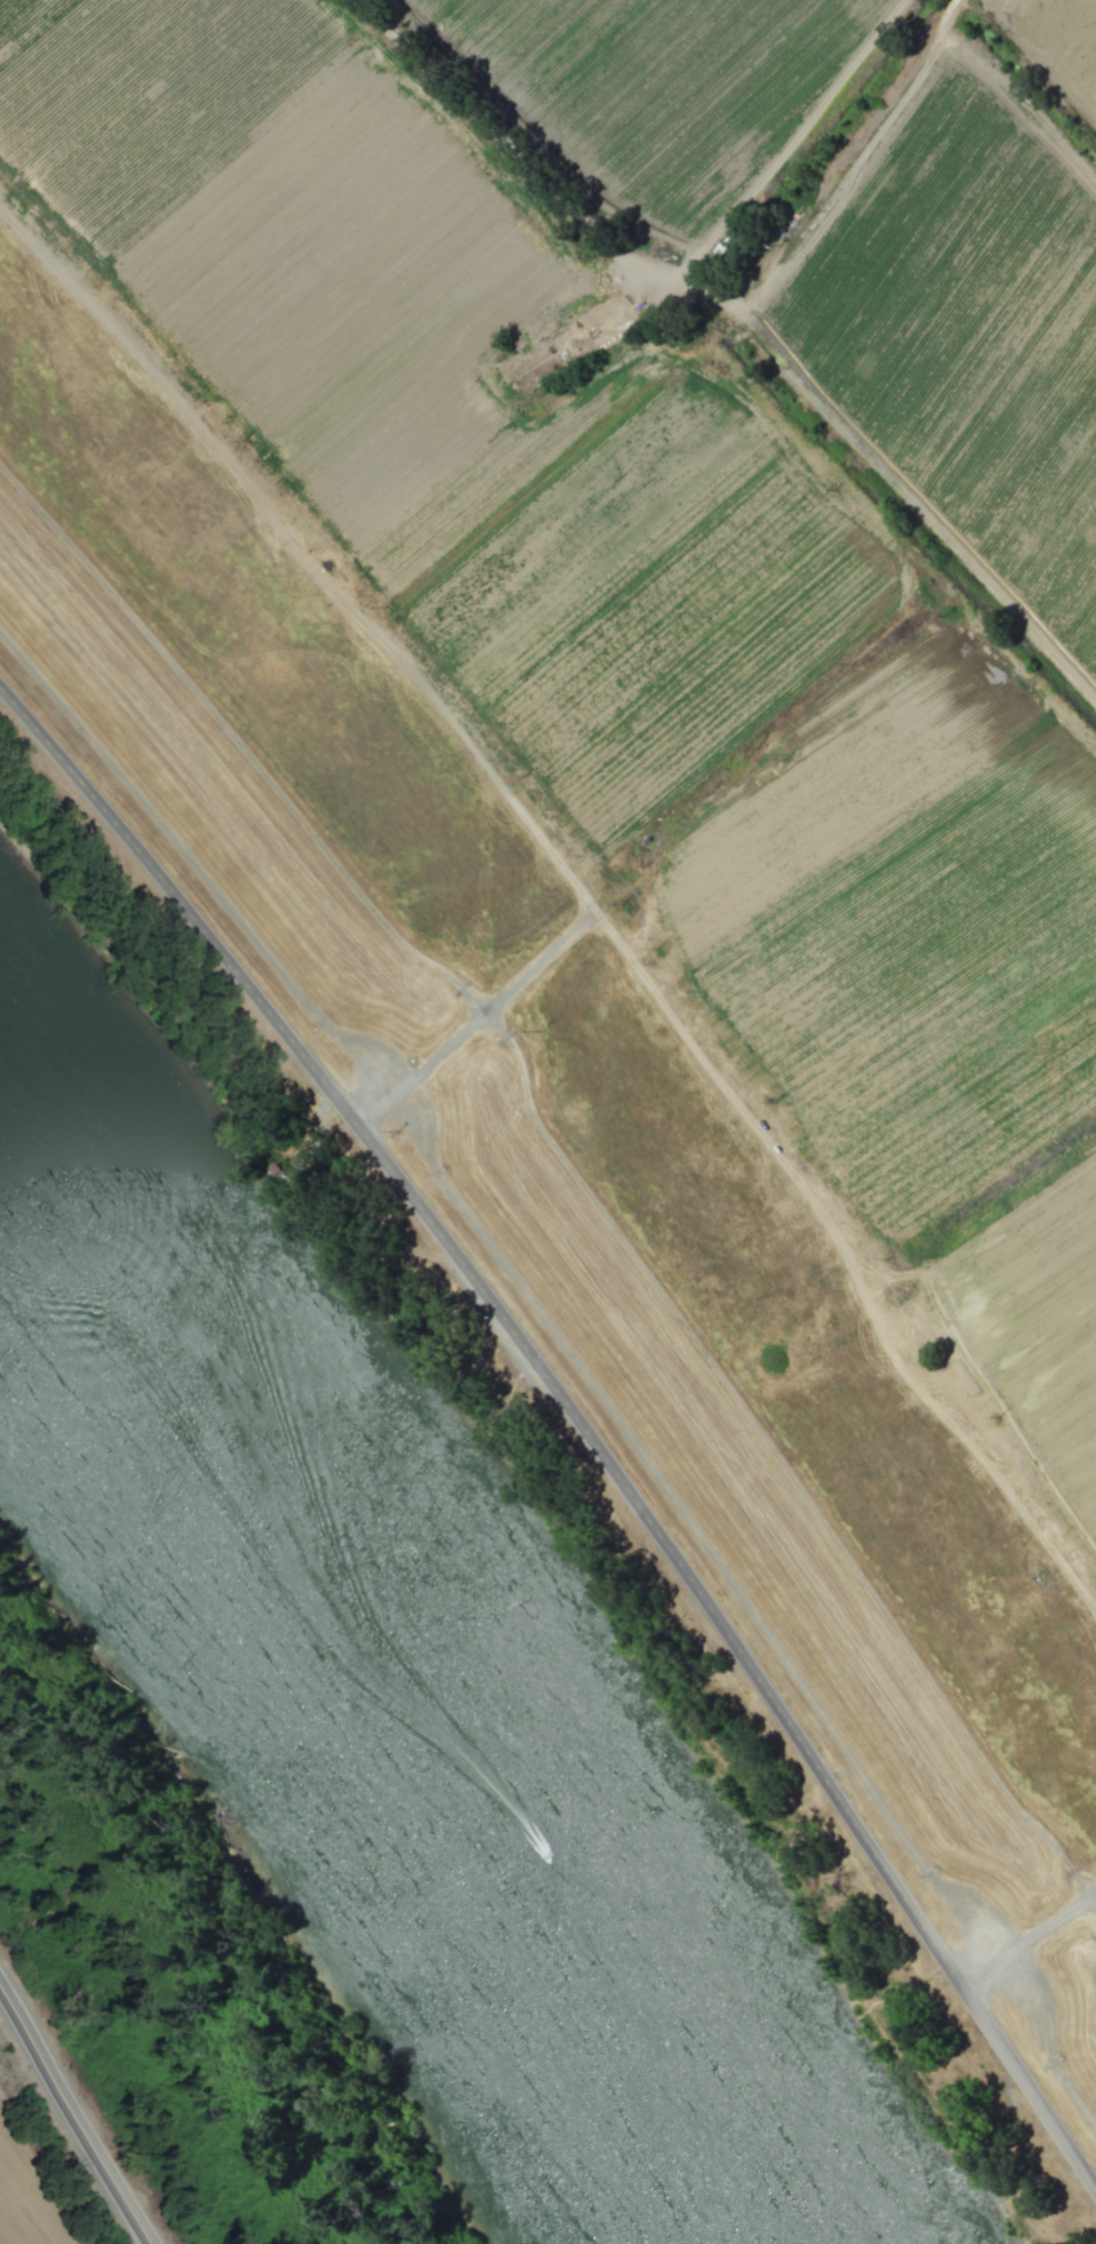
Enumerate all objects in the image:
crop: (1064, 36)
crop: (657, 92)
road: (575, 1418)
river: (423, 1695)
road: (1028, 1940)
road: (70, 2122)

